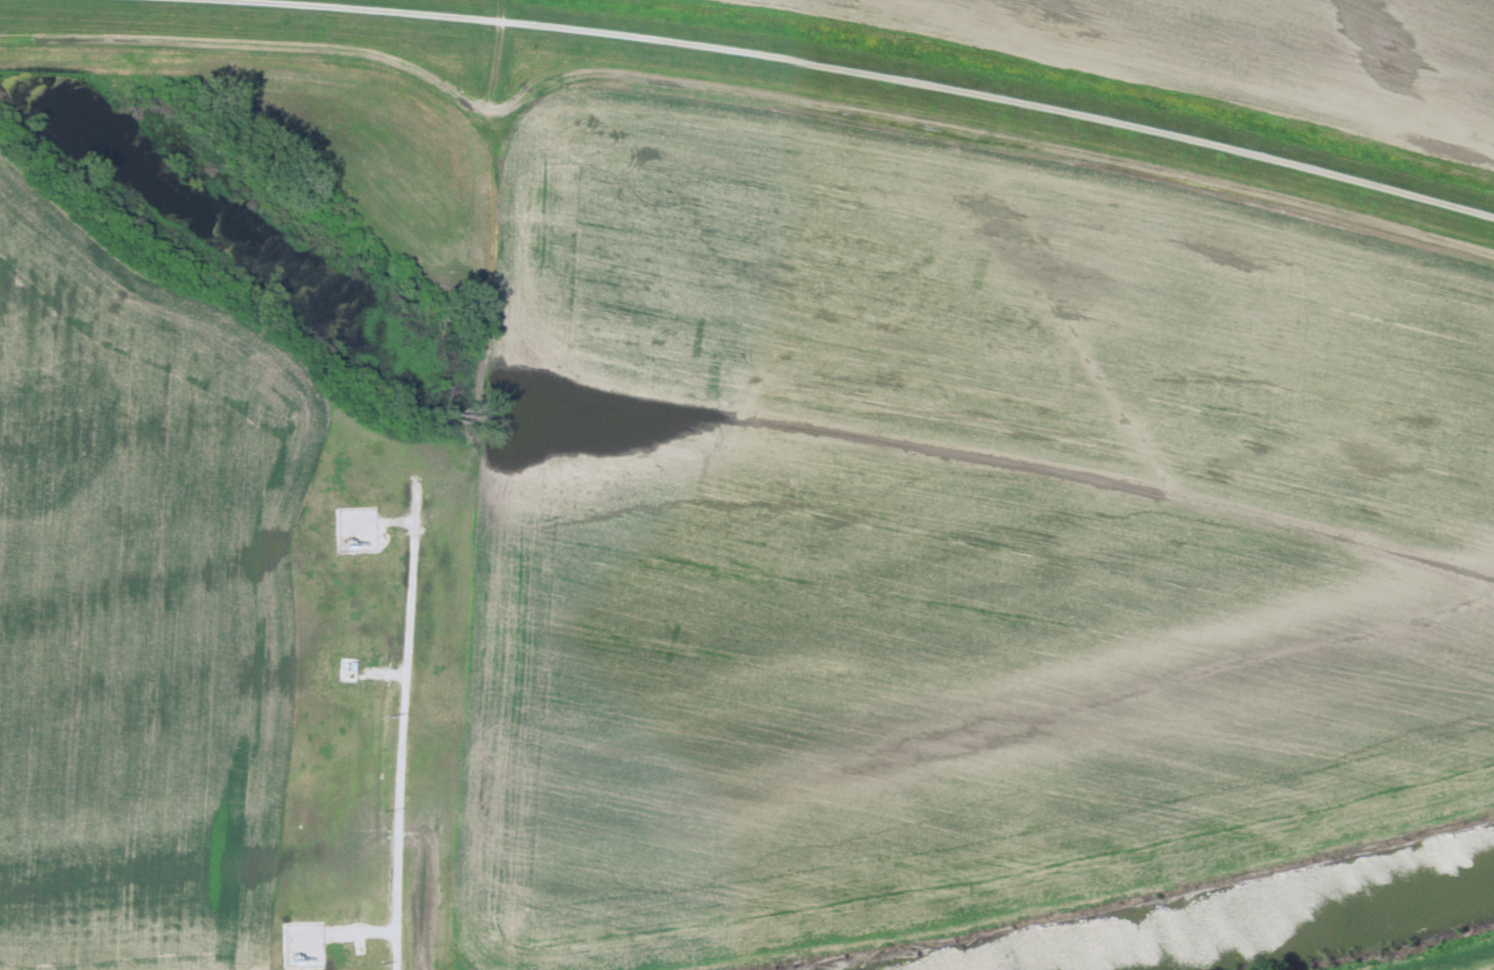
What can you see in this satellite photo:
crop: (1245, 54)
road: (823, 67)
crop: (383, 158)
crop: (952, 534)
crop: (215, 638)
crop: (1458, 960)

